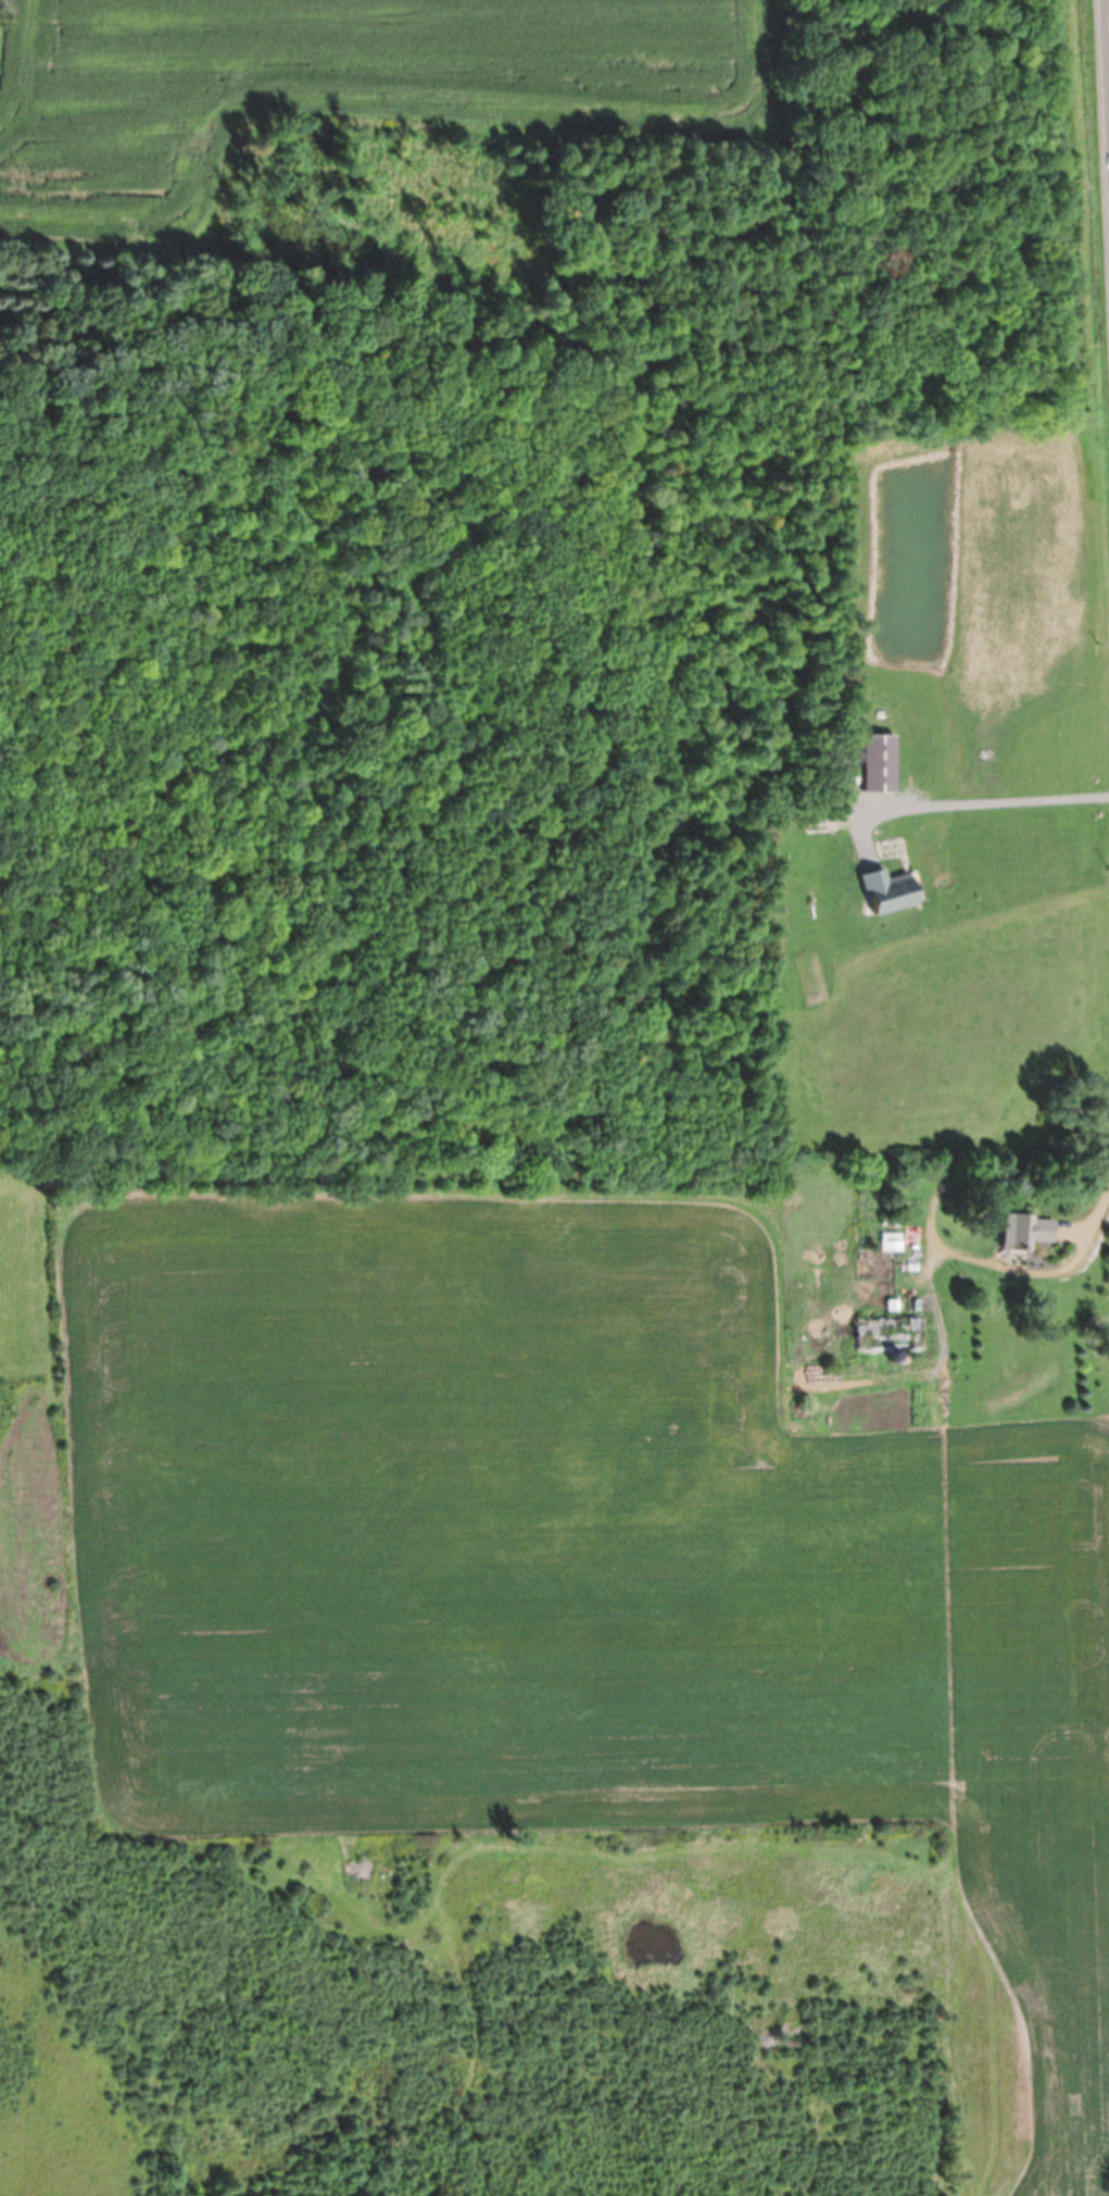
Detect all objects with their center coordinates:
building: (878, 762)
building: (890, 890)
building: (1028, 1232)
building: (892, 1242)
building: (896, 1333)

